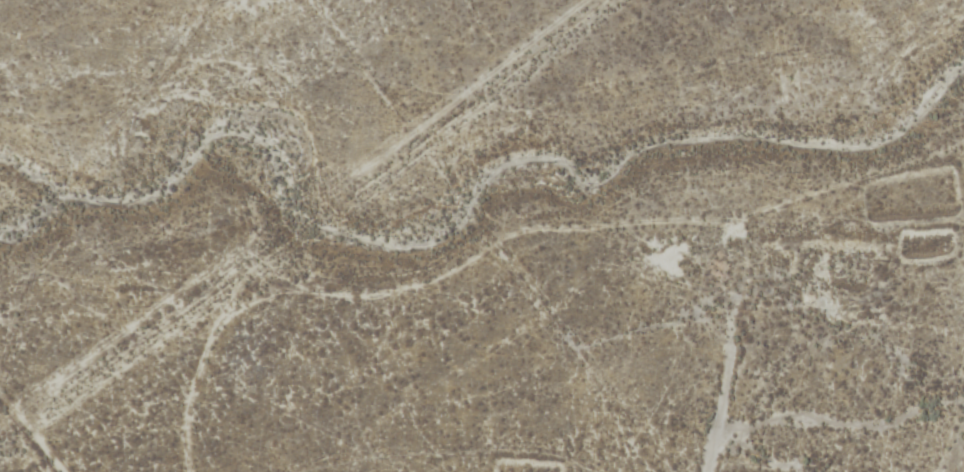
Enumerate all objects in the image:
road: (723, 408)

